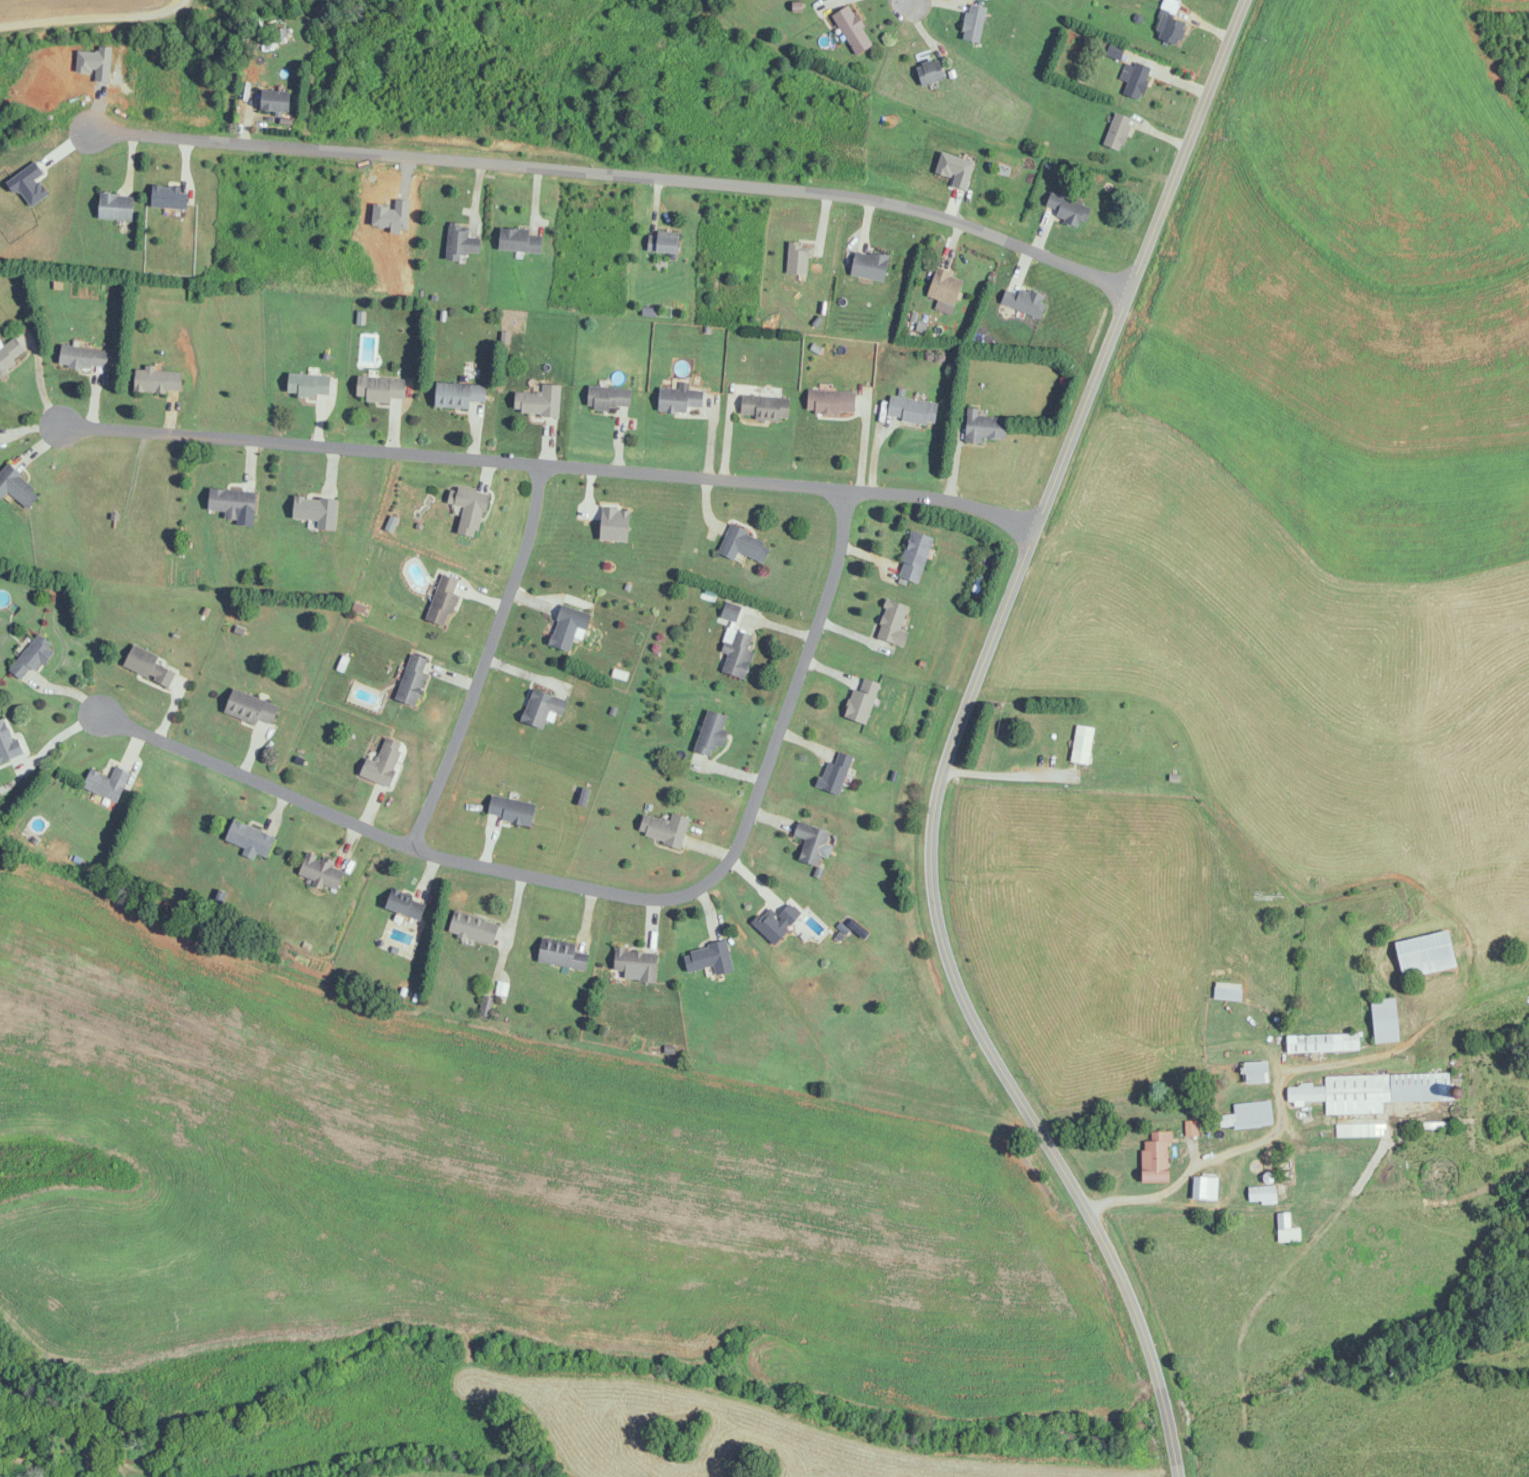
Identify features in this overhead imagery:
building: (1170, 6)
road: (898, 13)
building: (974, 22)
building: (853, 30)
building: (1172, 30)
building: (280, 36)
building: (1115, 51)
building: (931, 71)
building: (1135, 79)
building: (276, 100)
building: (1118, 131)
road: (615, 170)
building: (116, 207)
building: (1069, 210)
building: (521, 240)
building: (461, 242)
building: (664, 244)
building: (799, 259)
building: (870, 265)
building: (946, 287)
building: (1027, 301)
building: (11, 353)
building: (84, 357)
building: (158, 380)
building: (310, 385)
building: (381, 389)
building: (460, 394)
building: (610, 398)
building: (680, 399)
building: (539, 402)
building: (832, 402)
building: (765, 407)
building: (913, 409)
building: (985, 427)
road: (527, 457)
building: (17, 487)
building: (233, 503)
building: (470, 510)
building: (316, 511)
building: (615, 525)
building: (745, 545)
building: (915, 556)
building: (444, 600)
building: (893, 623)
building: (569, 627)
road: (479, 651)
building: (738, 655)
building: (32, 657)
building: (149, 665)
building: (413, 679)
building: (862, 701)
building: (252, 708)
building: (543, 708)
building: (712, 733)
road: (940, 738)
building: (8, 742)
building: (1079, 744)
building: (384, 764)
building: (835, 774)
road: (998, 774)
building: (108, 783)
building: (512, 811)
building: (665, 830)
building: (251, 840)
building: (814, 846)
building: (321, 872)
road: (576, 880)
building: (406, 905)
building: (776, 923)
building: (474, 928)
building: (564, 954)
building: (1427, 954)
building: (710, 959)
building: (639, 964)
building: (1228, 991)
building: (1386, 1020)
building: (1323, 1042)
building: (1240, 1073)
building: (1372, 1091)
building: (1245, 1116)
building: (1191, 1128)
road: (1256, 1131)
building: (1157, 1158)
building: (1206, 1188)
building: (1263, 1194)
building: (1288, 1229)

